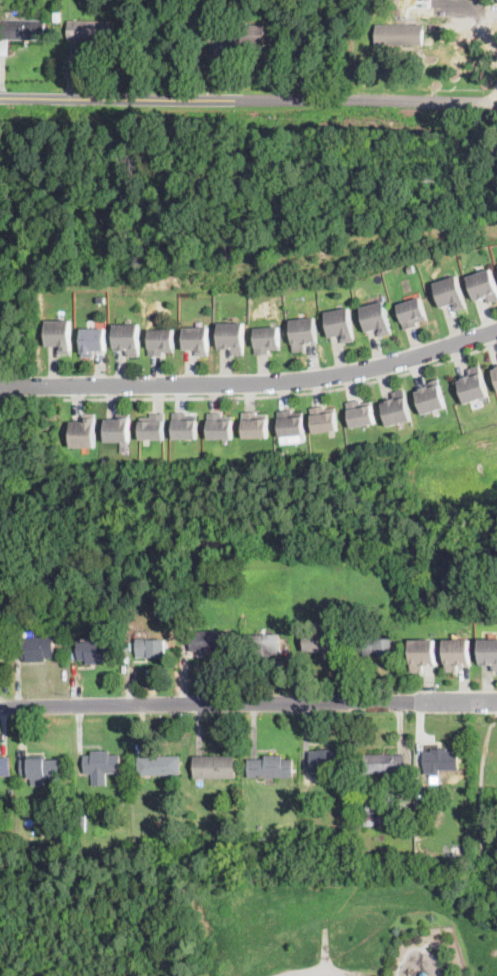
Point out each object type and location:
building: (22, 29)
building: (91, 31)
building: (238, 35)
building: (400, 35)
road: (248, 100)
building: (409, 267)
building: (483, 284)
building: (449, 292)
building: (411, 311)
building: (376, 317)
building: (339, 323)
building: (303, 332)
building: (59, 333)
building: (127, 336)
building: (231, 336)
building: (196, 338)
building: (266, 338)
building: (93, 339)
building: (161, 340)
building: (496, 370)
road: (251, 383)
building: (475, 384)
road: (284, 393)
building: (432, 395)
building: (398, 407)
building: (362, 411)
building: (325, 418)
building: (292, 421)
building: (256, 423)
building: (185, 424)
building: (221, 424)
building: (153, 425)
building: (119, 427)
building: (84, 431)
building: (0, 440)
building: (3, 591)
building: (133, 595)
building: (208, 641)
building: (319, 642)
building: (370, 644)
building: (264, 645)
building: (129, 647)
building: (151, 647)
building: (39, 648)
building: (0, 649)
building: (489, 650)
building: (96, 651)
building: (424, 652)
building: (458, 652)
road: (457, 701)
road: (208, 705)
building: (328, 760)
building: (441, 760)
building: (385, 763)
building: (5, 766)
building: (102, 766)
building: (159, 766)
building: (215, 767)
building: (271, 767)
building: (43, 772)
building: (326, 806)
building: (374, 813)
road: (481, 820)
building: (82, 823)
building: (260, 824)
building: (314, 826)
building: (146, 828)
building: (59, 833)
building: (196, 838)
building: (170, 843)
building: (25, 855)
building: (198, 857)
building: (112, 858)
building: (354, 858)
road: (370, 903)
park: (250, 919)
road: (419, 947)
road: (444, 952)

